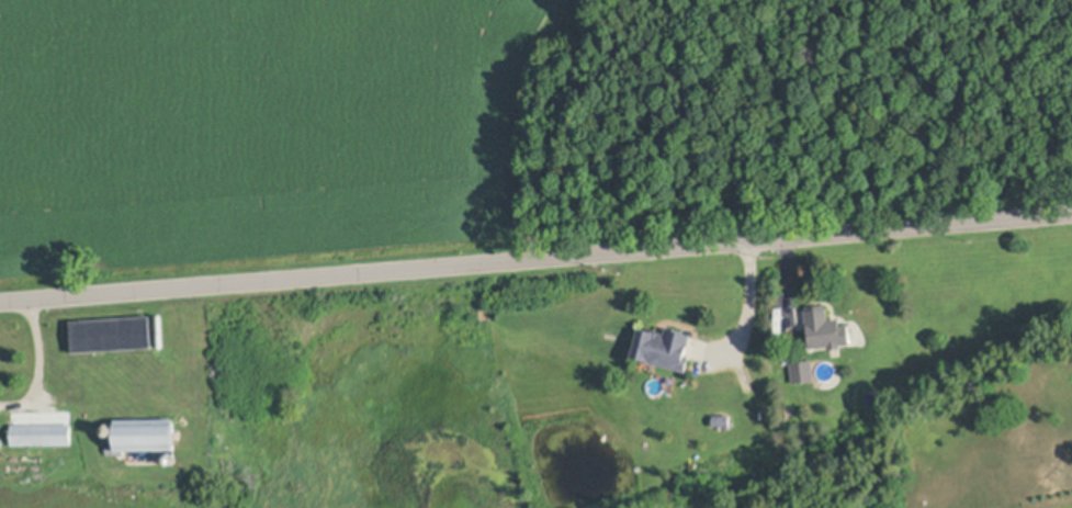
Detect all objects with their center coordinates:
road: (535, 256)
building: (826, 326)
building: (161, 329)
building: (113, 334)
road: (38, 343)
building: (662, 346)
building: (803, 370)
building: (722, 418)
building: (110, 429)
building: (145, 431)
building: (42, 432)
building: (1, 441)
building: (172, 458)

